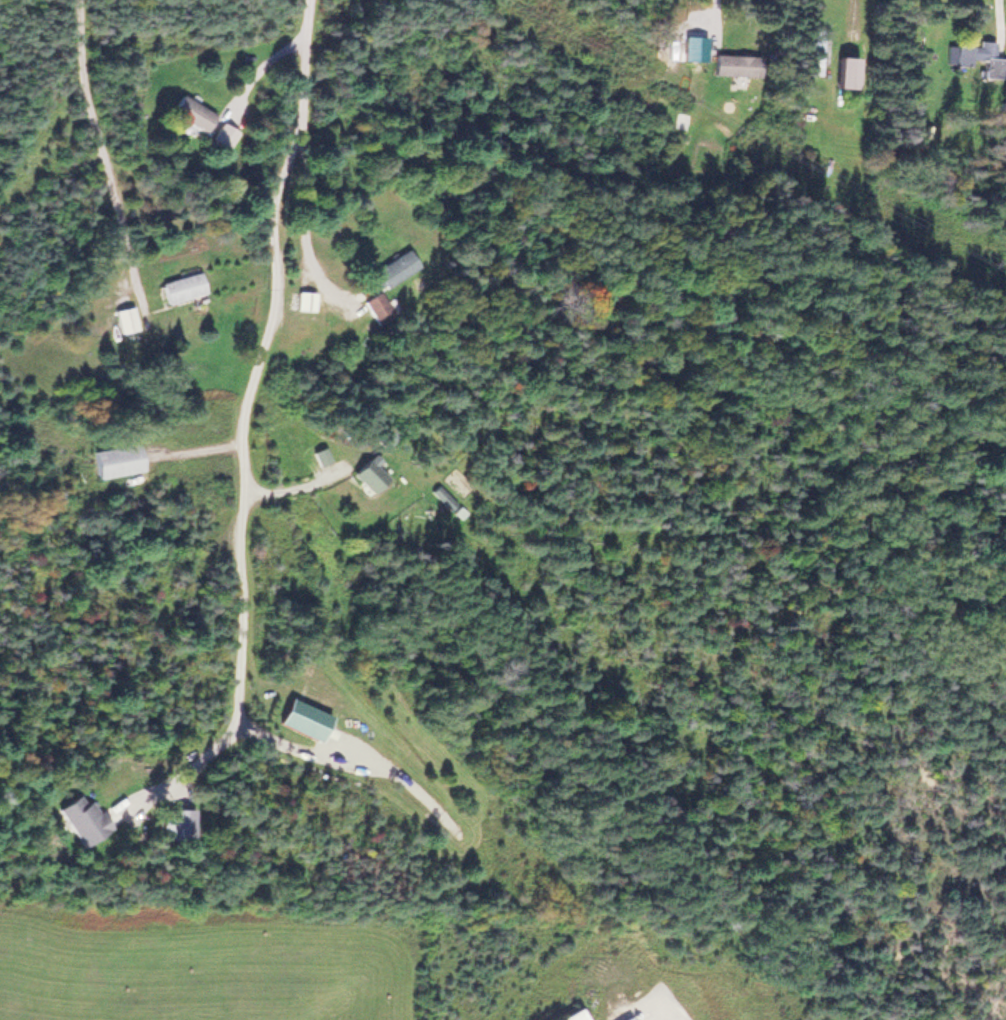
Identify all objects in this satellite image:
road: (709, 27)
building: (813, 49)
building: (973, 53)
building: (732, 62)
building: (844, 70)
road: (251, 72)
building: (191, 110)
building: (823, 161)
road: (104, 163)
road: (302, 227)
building: (393, 265)
building: (180, 283)
building: (303, 297)
building: (376, 305)
building: (124, 316)
road: (259, 360)
building: (386, 435)
road: (192, 447)
building: (320, 452)
building: (115, 457)
building: (369, 470)
road: (296, 483)
building: (441, 496)
road: (354, 763)
road: (173, 771)
building: (80, 816)
building: (574, 1016)

